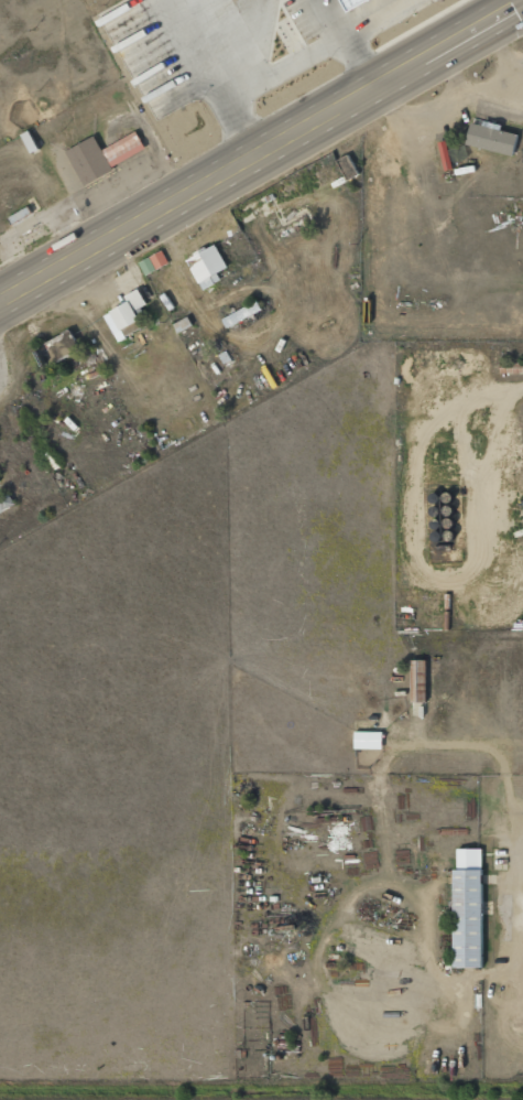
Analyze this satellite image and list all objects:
building: (353, 2)
gas station: (353, 2)
road: (457, 43)
building: (495, 137)
building: (94, 158)
road: (196, 196)
building: (512, 209)
building: (152, 262)
building: (206, 267)
building: (241, 314)
building: (124, 316)
building: (58, 347)
road: (3, 363)
building: (6, 500)
building: (417, 679)
building: (367, 738)
building: (469, 895)

